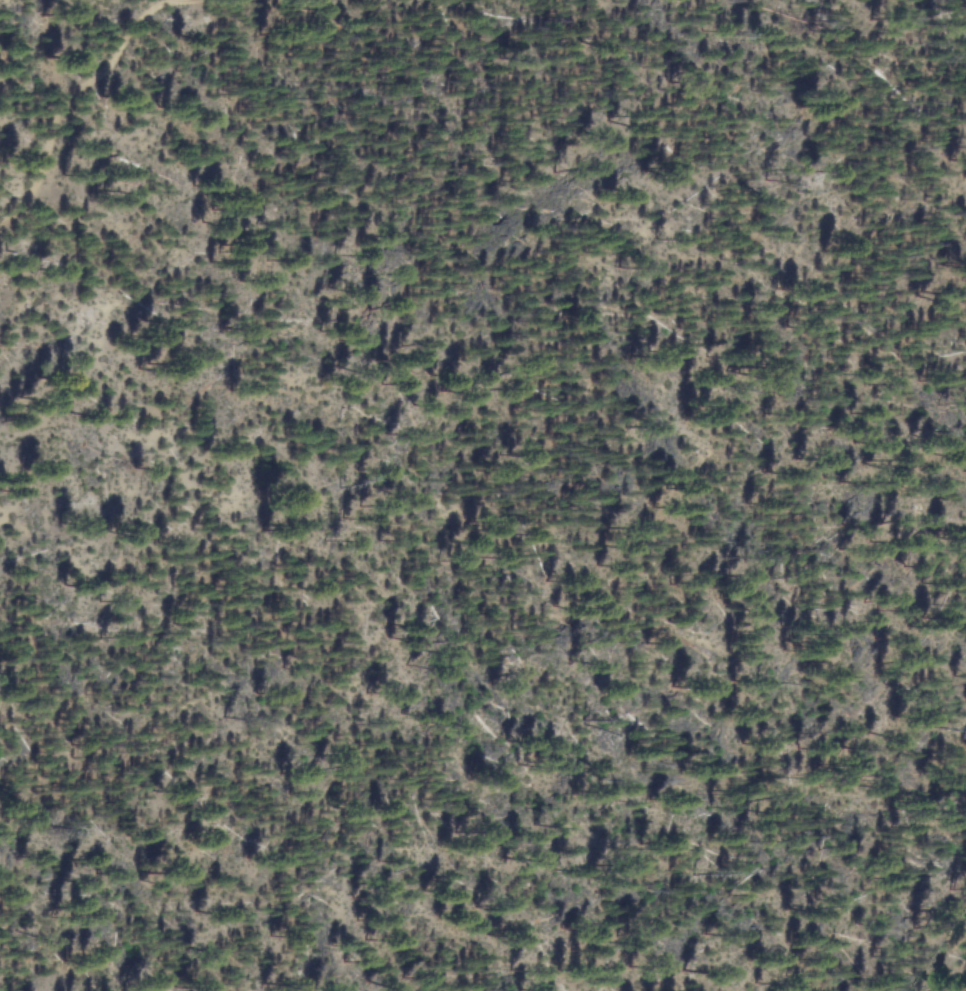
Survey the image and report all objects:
road: (82, 72)

